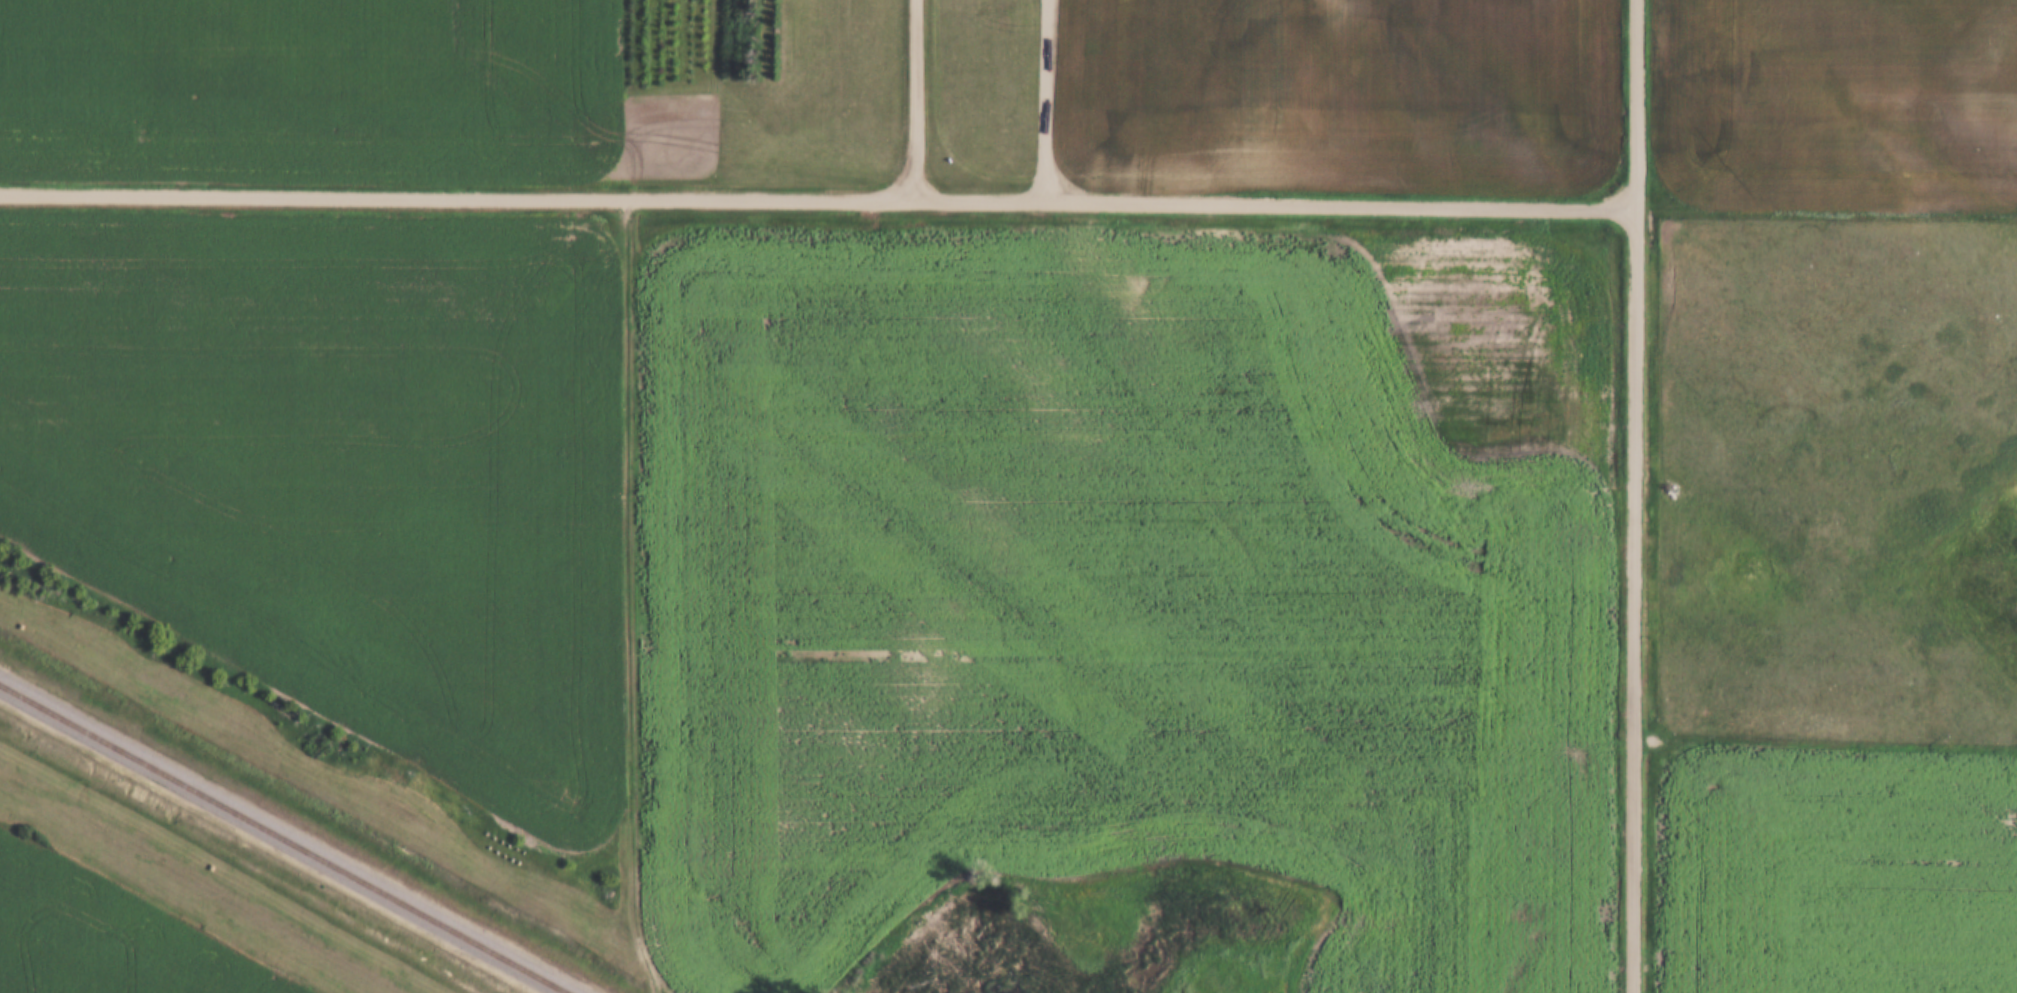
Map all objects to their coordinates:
road: (919, 100)
road: (819, 199)
road: (1637, 496)
road: (628, 597)
railway: (284, 838)

